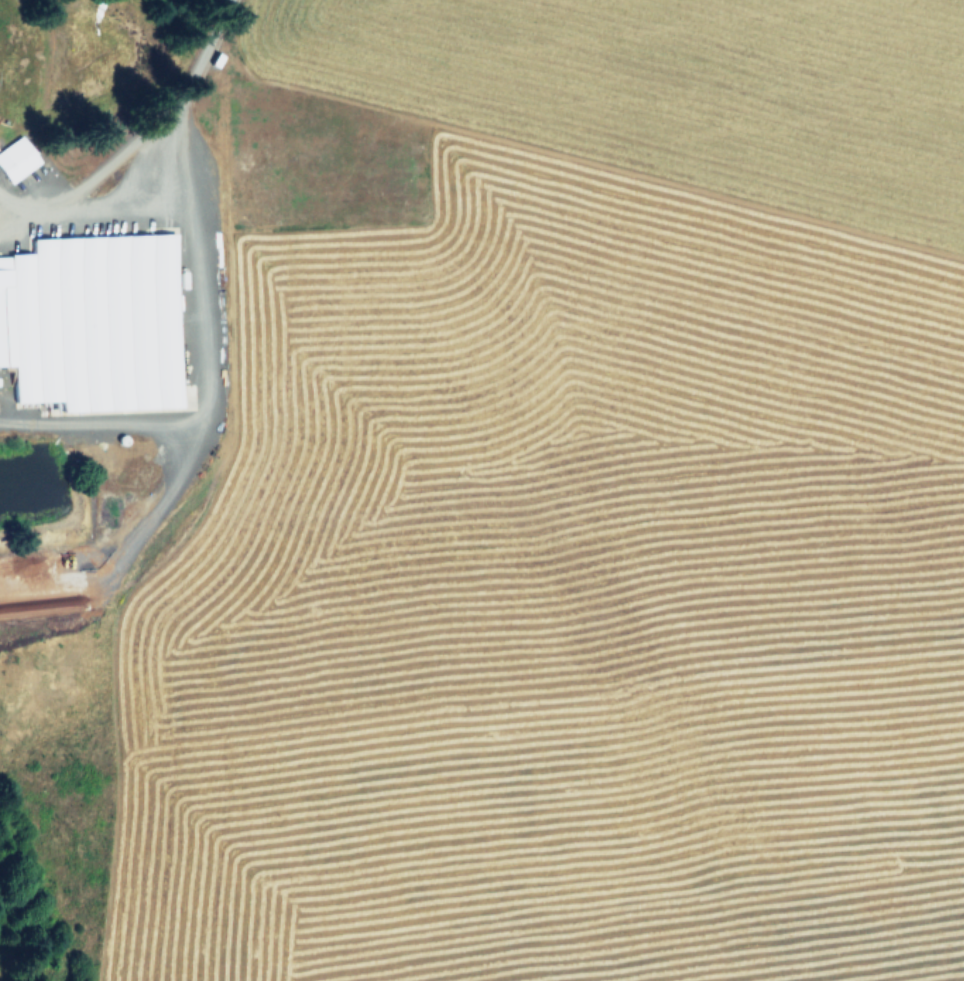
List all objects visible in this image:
road: (139, 142)
building: (17, 158)
road: (131, 226)
road: (189, 310)
building: (93, 321)
road: (97, 422)
crop: (482, 489)
road: (120, 528)

